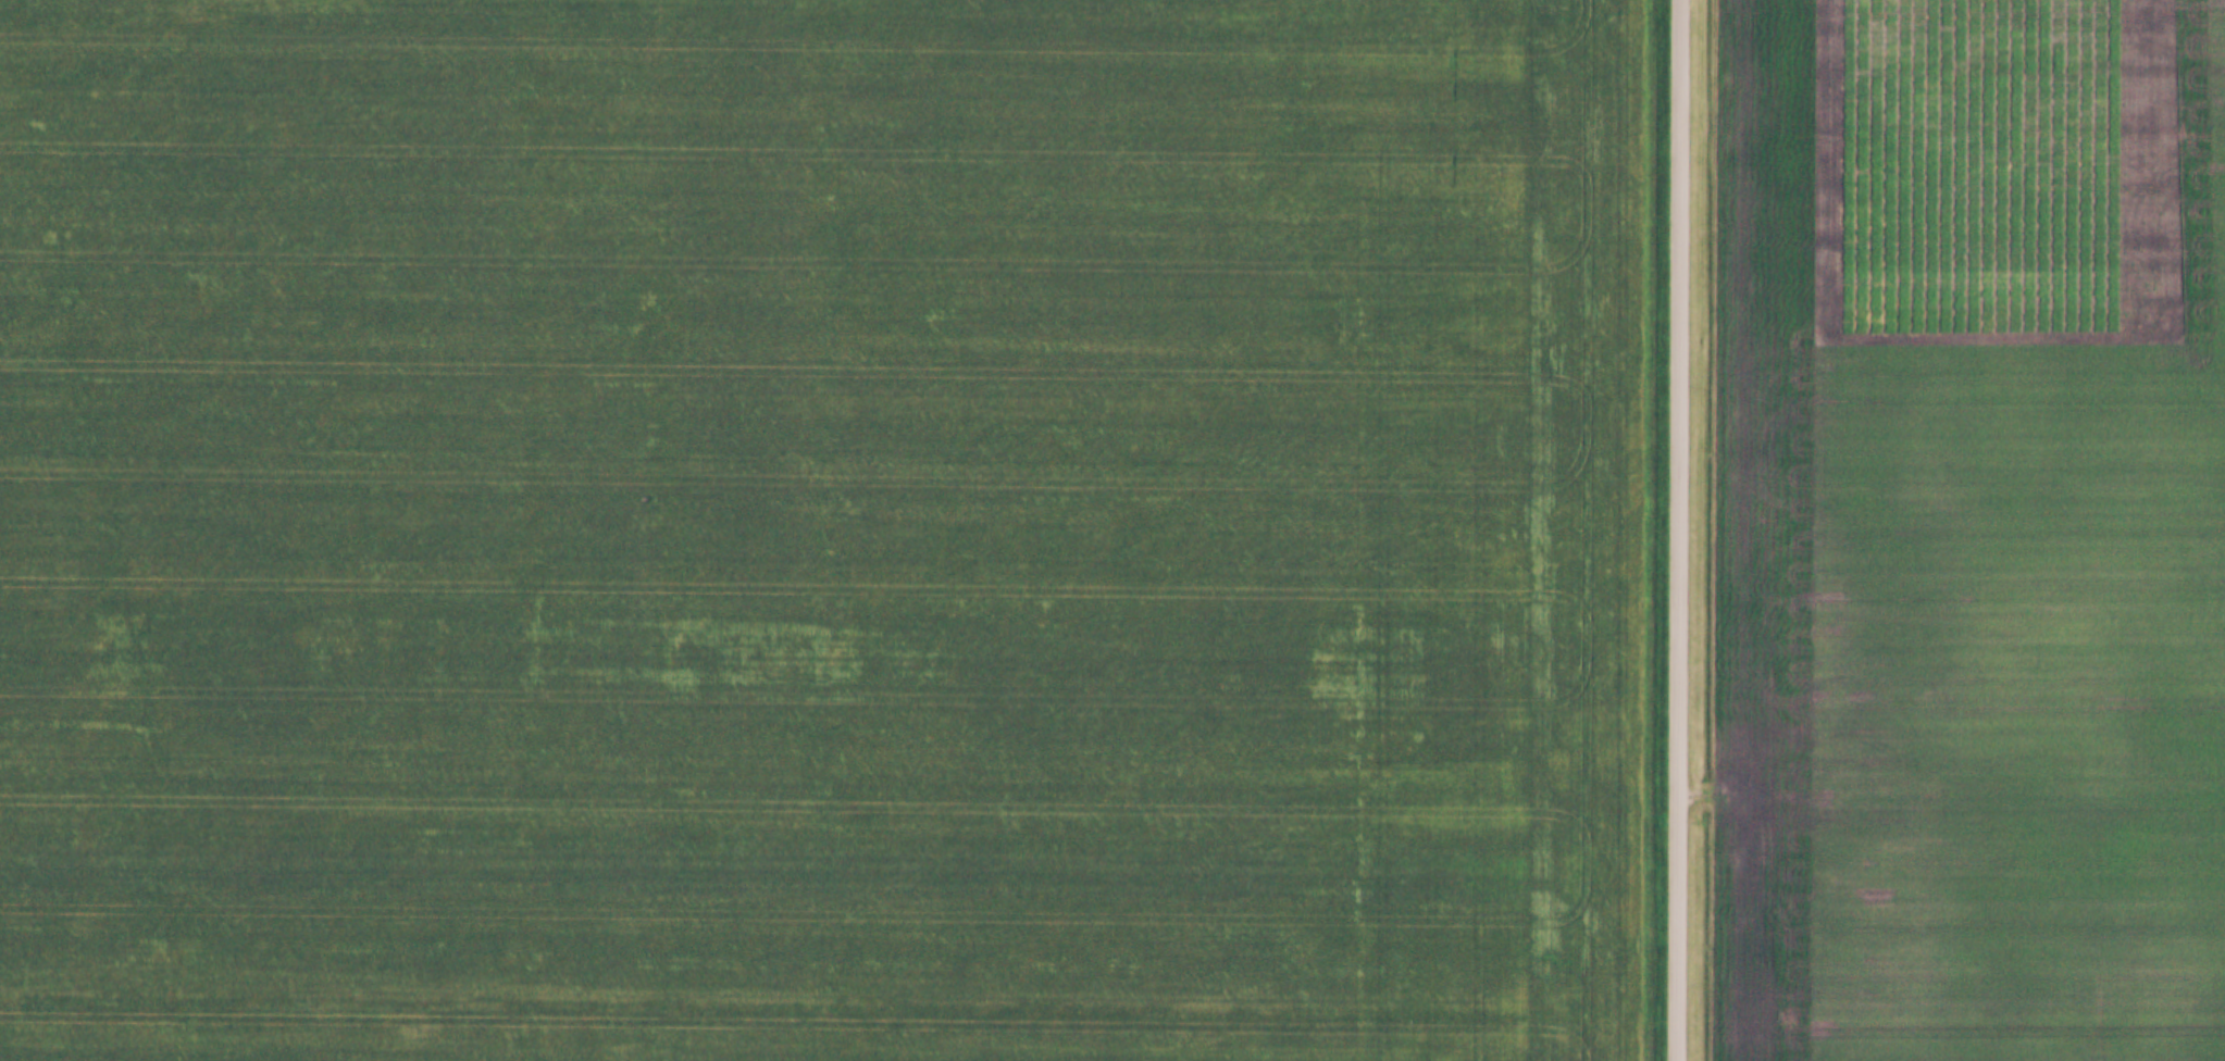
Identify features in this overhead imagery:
road: (1683, 530)

